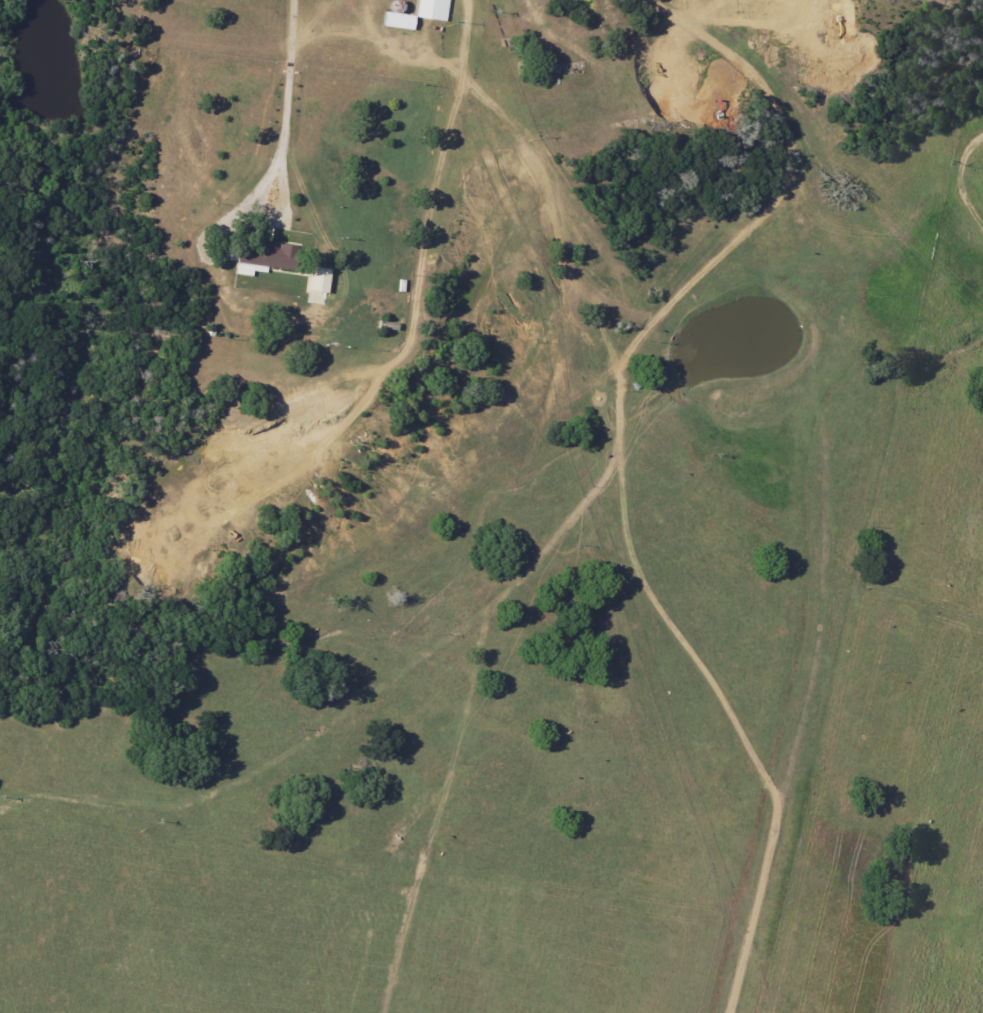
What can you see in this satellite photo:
building: (433, 9)
building: (400, 20)
road: (292, 25)
road: (468, 34)
road: (505, 52)
road: (285, 124)
road: (961, 181)
building: (269, 257)
building: (319, 284)
road: (620, 454)

